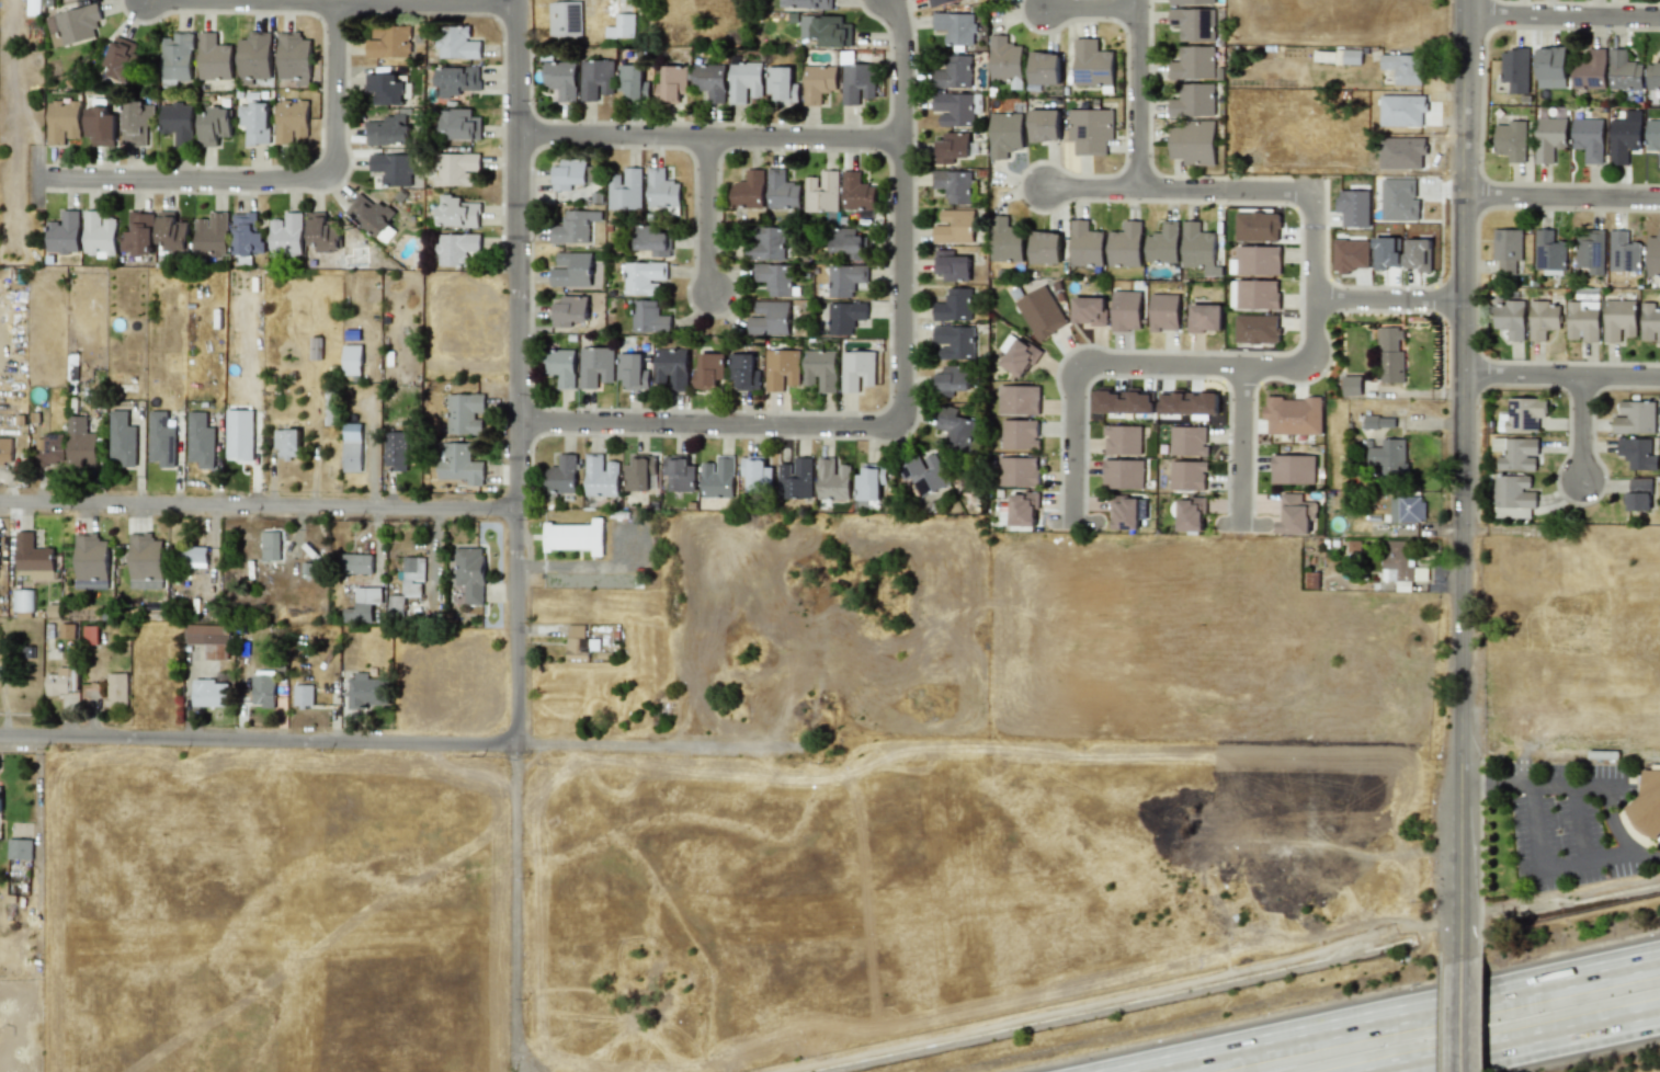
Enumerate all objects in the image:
road: (377, 1)
building: (942, 2)
building: (1191, 2)
building: (811, 4)
road: (1091, 8)
road: (1564, 13)
building: (566, 20)
building: (623, 23)
building: (1193, 23)
building: (73, 24)
building: (956, 28)
building: (830, 31)
building: (388, 41)
building: (456, 42)
building: (215, 56)
building: (1352, 57)
building: (178, 58)
building: (294, 58)
building: (122, 59)
building: (254, 59)
building: (1005, 59)
building: (1093, 64)
building: (1194, 64)
building: (1551, 66)
building: (1045, 67)
building: (1403, 68)
building: (1515, 68)
building: (1591, 69)
building: (1625, 70)
building: (954, 72)
building: (1653, 73)
building: (559, 78)
building: (595, 78)
building: (456, 80)
building: (709, 80)
building: (746, 80)
building: (857, 81)
building: (633, 82)
building: (671, 82)
building: (818, 83)
building: (781, 85)
building: (387, 88)
road: (1138, 93)
building: (1192, 100)
building: (957, 107)
building: (1402, 111)
building: (62, 121)
building: (255, 121)
building: (289, 121)
building: (178, 123)
building: (461, 123)
building: (136, 124)
building: (214, 124)
building: (99, 125)
building: (1045, 125)
building: (1091, 128)
building: (389, 130)
building: (1005, 134)
building: (1655, 136)
road: (708, 137)
building: (1549, 138)
building: (1588, 138)
building: (1511, 139)
building: (1623, 139)
building: (1194, 140)
building: (954, 148)
building: (456, 168)
building: (393, 169)
building: (569, 174)
road: (271, 178)
building: (954, 185)
road: (1176, 189)
building: (661, 190)
building: (625, 191)
building: (748, 191)
building: (782, 191)
building: (821, 192)
building: (857, 192)
road: (1560, 196)
building: (1399, 201)
building: (369, 213)
building: (456, 213)
road: (706, 214)
building: (955, 226)
building: (1257, 227)
building: (571, 228)
building: (64, 232)
building: (100, 232)
building: (325, 232)
building: (286, 233)
building: (172, 235)
building: (212, 235)
building: (139, 236)
building: (246, 237)
building: (652, 241)
building: (1005, 241)
building: (1162, 242)
building: (1124, 243)
building: (766, 244)
building: (848, 244)
building: (1085, 244)
building: (1197, 244)
building: (1046, 247)
building: (456, 248)
building: (1508, 249)
building: (1592, 251)
building: (1625, 251)
building: (1386, 253)
building: (1549, 253)
building: (1418, 254)
building: (1653, 256)
building: (1259, 260)
building: (951, 265)
building: (571, 270)
building: (644, 277)
building: (775, 278)
building: (845, 280)
building: (1255, 294)
road: (1386, 298)
building: (954, 305)
building: (570, 309)
building: (1127, 310)
building: (1090, 311)
building: (1041, 312)
building: (1166, 312)
building: (649, 317)
building: (845, 317)
building: (1205, 318)
building: (1510, 318)
building: (770, 319)
building: (1544, 319)
building: (1618, 319)
building: (1583, 321)
building: (1650, 322)
building: (1257, 329)
building: (955, 341)
building: (1390, 354)
building: (1021, 356)
building: (352, 360)
road: (1199, 365)
building: (560, 366)
building: (595, 366)
building: (671, 368)
building: (782, 369)
building: (820, 369)
building: (857, 370)
building: (633, 372)
building: (744, 372)
road: (1560, 373)
building: (952, 379)
building: (1351, 385)
road: (901, 399)
building: (1020, 399)
building: (1123, 401)
building: (1190, 403)
building: (465, 413)
building: (1522, 414)
building: (1293, 415)
building: (1635, 418)
building: (1378, 421)
road: (1579, 426)
building: (956, 427)
building: (239, 434)
building: (1021, 434)
building: (122, 438)
building: (161, 440)
building: (1122, 440)
building: (201, 441)
building: (1189, 441)
building: (80, 442)
building: (287, 443)
road: (1241, 444)
building: (352, 447)
building: (395, 449)
building: (5, 451)
building: (48, 451)
building: (1517, 453)
building: (1638, 453)
building: (1388, 455)
building: (461, 465)
building: (1293, 468)
building: (1020, 471)
building: (926, 472)
building: (640, 474)
building: (680, 474)
building: (1123, 474)
building: (757, 475)
building: (1189, 475)
building: (560, 476)
building: (601, 476)
road: (1460, 477)
building: (718, 478)
building: (795, 479)
building: (832, 479)
building: (869, 482)
building: (1638, 494)
building: (1514, 495)
road: (259, 504)
building: (1024, 509)
building: (1410, 509)
building: (1124, 512)
building: (1191, 513)
building: (1295, 513)
road: (1075, 521)
road: (1242, 523)
road: (518, 535)
building: (575, 537)
building: (270, 546)
building: (197, 555)
building: (33, 558)
building: (91, 561)
building: (145, 561)
building: (354, 563)
building: (1399, 563)
building: (470, 573)
building: (412, 575)
building: (22, 601)
building: (363, 605)
building: (90, 635)
building: (211, 639)
building: (577, 642)
building: (60, 682)
building: (116, 688)
building: (263, 688)
building: (365, 691)
building: (211, 692)
building: (303, 696)
road: (397, 742)
road: (1592, 779)
building: (0, 797)
building: (1647, 802)
road: (1577, 823)
building: (19, 848)
road: (1538, 875)
road: (1390, 1012)
road: (1458, 1013)
road: (1551, 1049)

